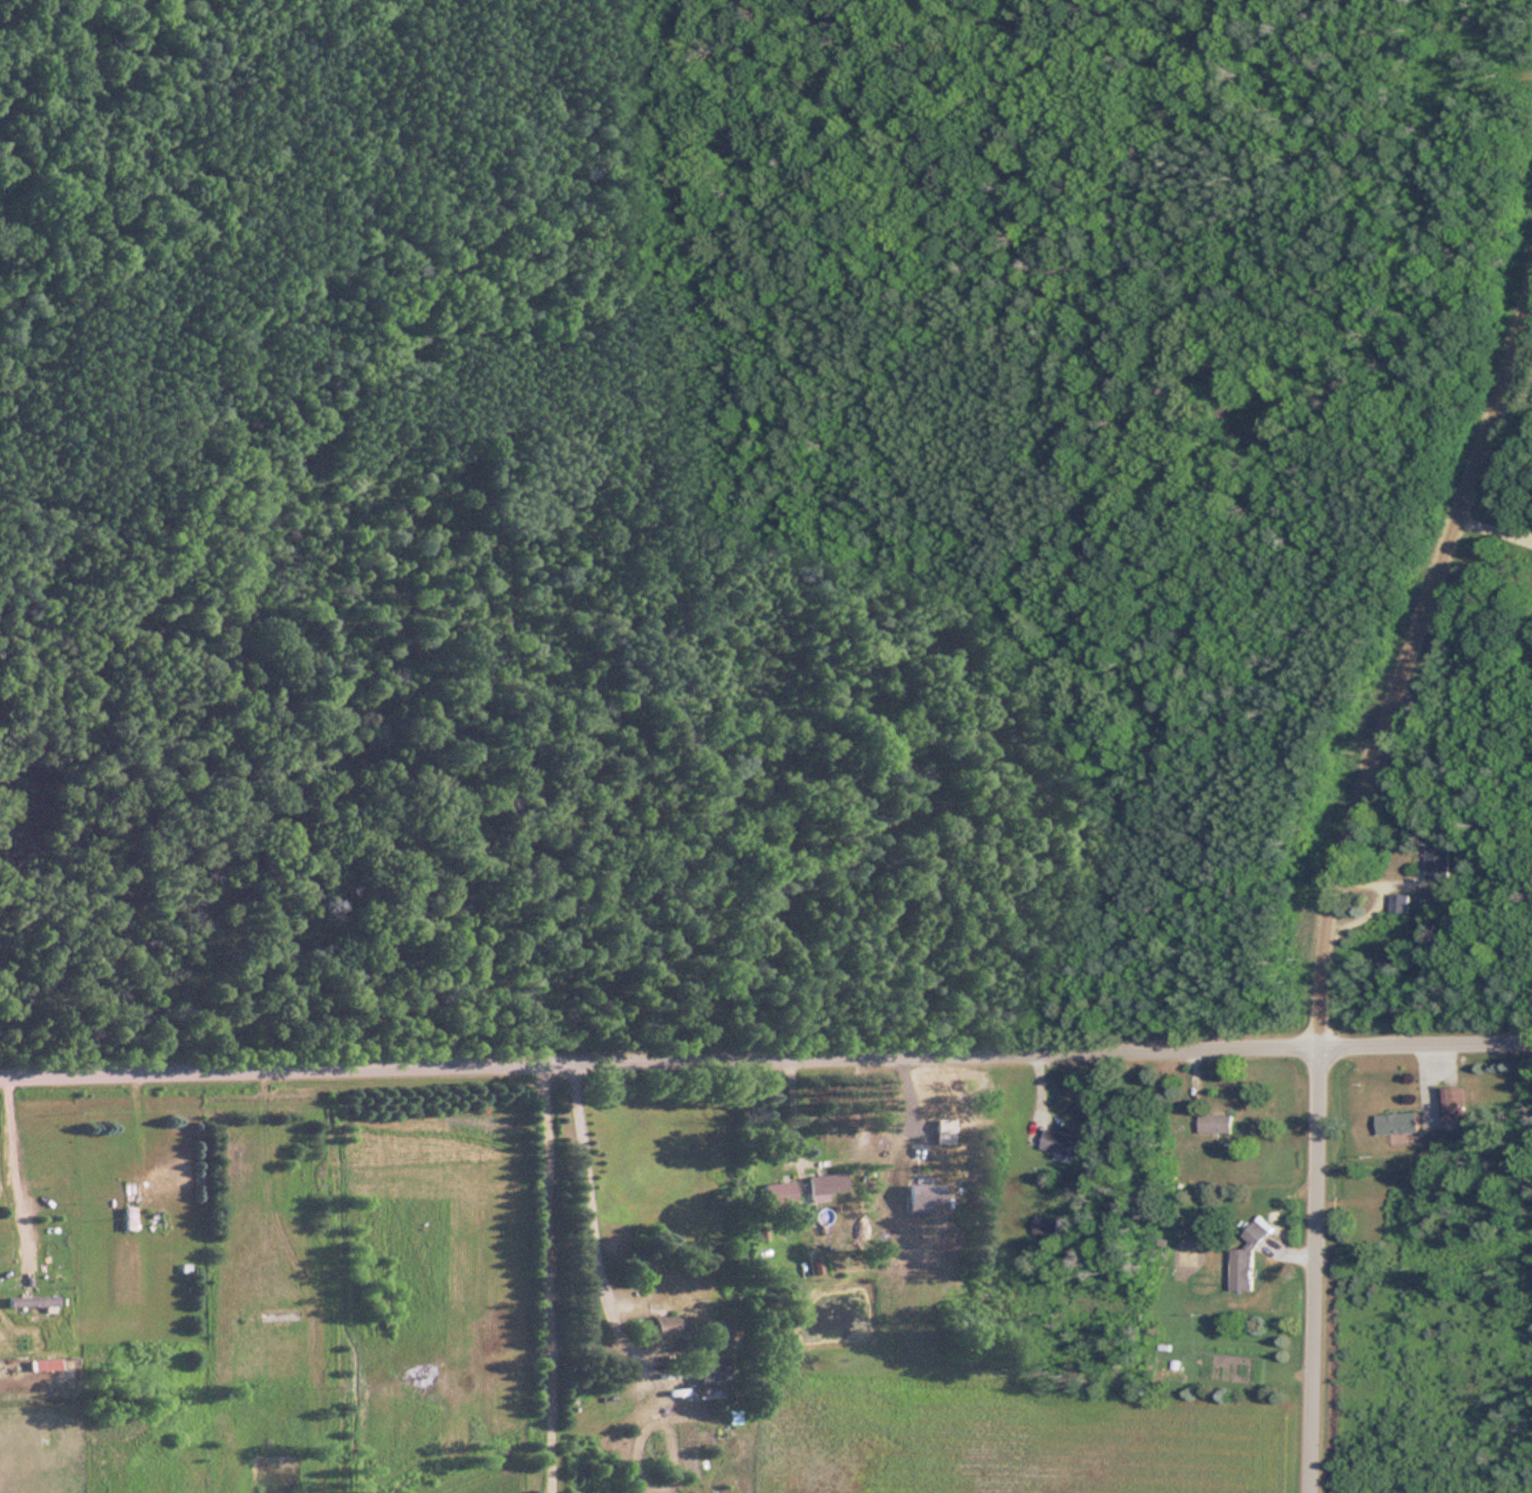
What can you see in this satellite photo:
park: (719, 513)
road: (1496, 531)
building: (1437, 861)
road: (1339, 876)
building: (1399, 903)
road: (765, 1062)
building: (1451, 1101)
road: (788, 1117)
building: (1396, 1122)
building: (1214, 1123)
road: (139, 1129)
building: (940, 1133)
building: (1060, 1144)
road: (6, 1180)
building: (822, 1186)
building: (782, 1192)
building: (918, 1197)
building: (126, 1206)
road: (591, 1220)
building: (1044, 1226)
building: (1244, 1263)
building: (30, 1301)
building: (659, 1326)
building: (710, 1372)

